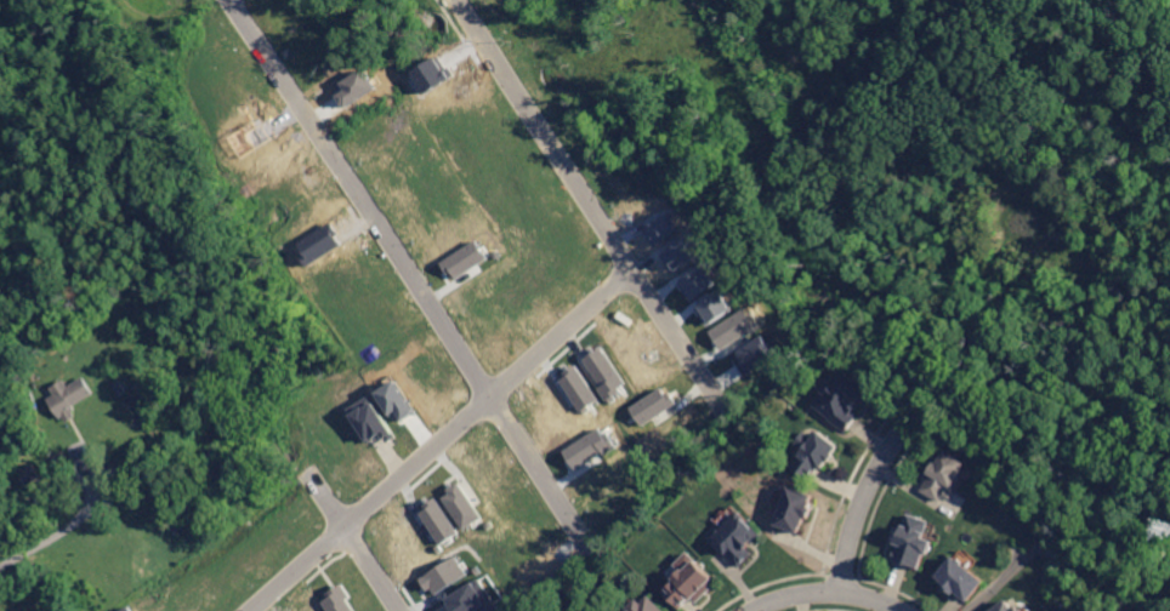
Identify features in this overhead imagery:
building: (356, 86)
road: (738, 86)
road: (601, 215)
building: (465, 258)
road: (178, 262)
road: (418, 281)
building: (699, 281)
building: (715, 307)
building: (755, 354)
building: (121, 386)
building: (579, 388)
building: (70, 399)
building: (397, 400)
building: (844, 400)
building: (653, 404)
building: (374, 422)
road: (46, 424)
road: (442, 440)
building: (590, 446)
building: (817, 453)
road: (131, 475)
building: (945, 475)
road: (865, 497)
building: (462, 504)
building: (21, 508)
building: (797, 510)
building: (439, 520)
building: (739, 538)
building: (915, 543)
road: (374, 567)
building: (444, 575)
building: (961, 579)
building: (693, 584)
road: (831, 588)
building: (470, 596)
building: (339, 599)
building: (646, 605)
building: (1009, 607)
building: (129, 609)
building: (493, 609)

